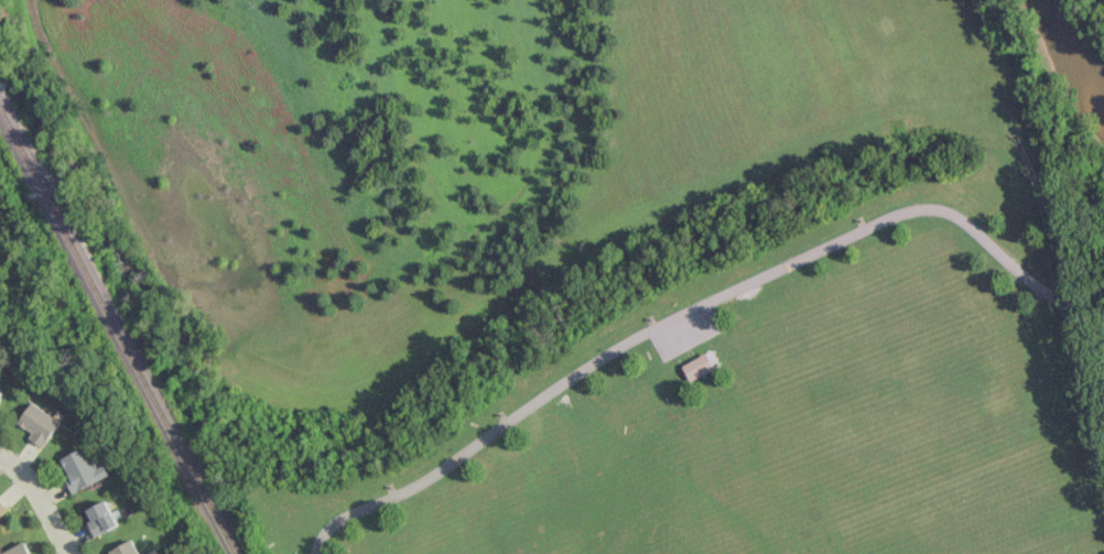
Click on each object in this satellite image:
park: (609, 265)
road: (1018, 268)
railway: (118, 330)
road: (594, 366)
building: (696, 367)
park: (898, 382)
building: (1, 392)
building: (39, 423)
building: (83, 469)
road: (41, 502)
building: (2, 509)
park: (972, 509)
building: (101, 518)
building: (18, 548)
building: (126, 548)

